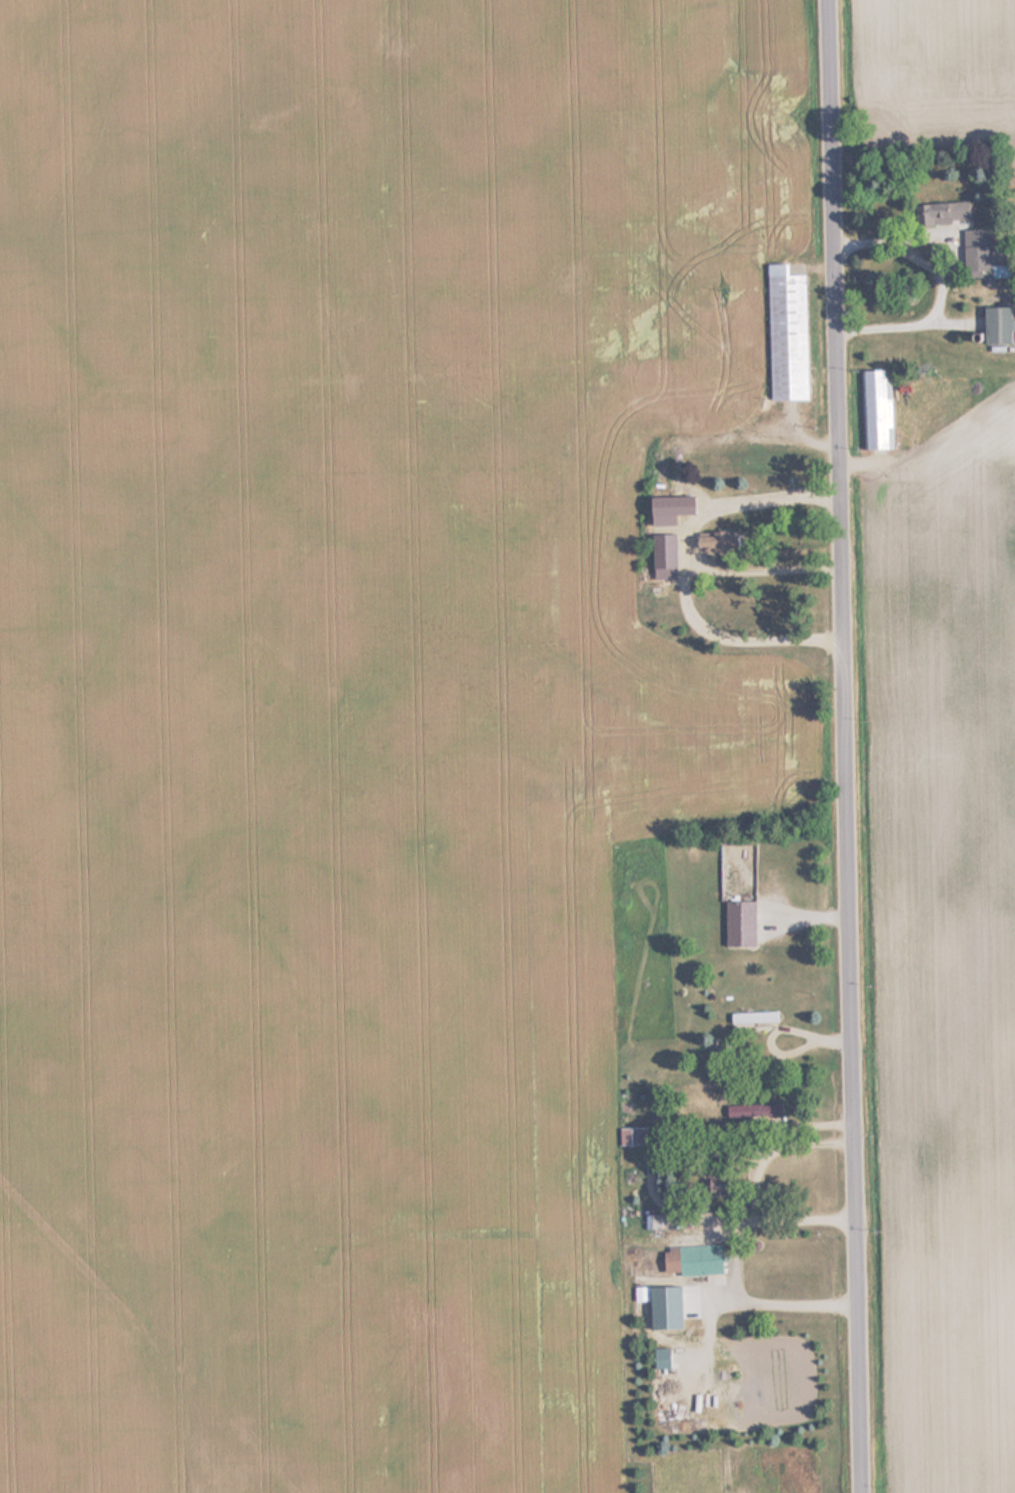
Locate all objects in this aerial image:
building: (943, 213)
building: (983, 253)
road: (945, 262)
building: (996, 326)
building: (786, 339)
building: (876, 410)
building: (669, 507)
building: (710, 543)
building: (663, 557)
road: (762, 568)
road: (680, 572)
road: (846, 746)
building: (738, 923)
building: (753, 1019)
building: (756, 1116)
building: (632, 1136)
building: (713, 1185)
building: (654, 1222)
building: (691, 1260)

